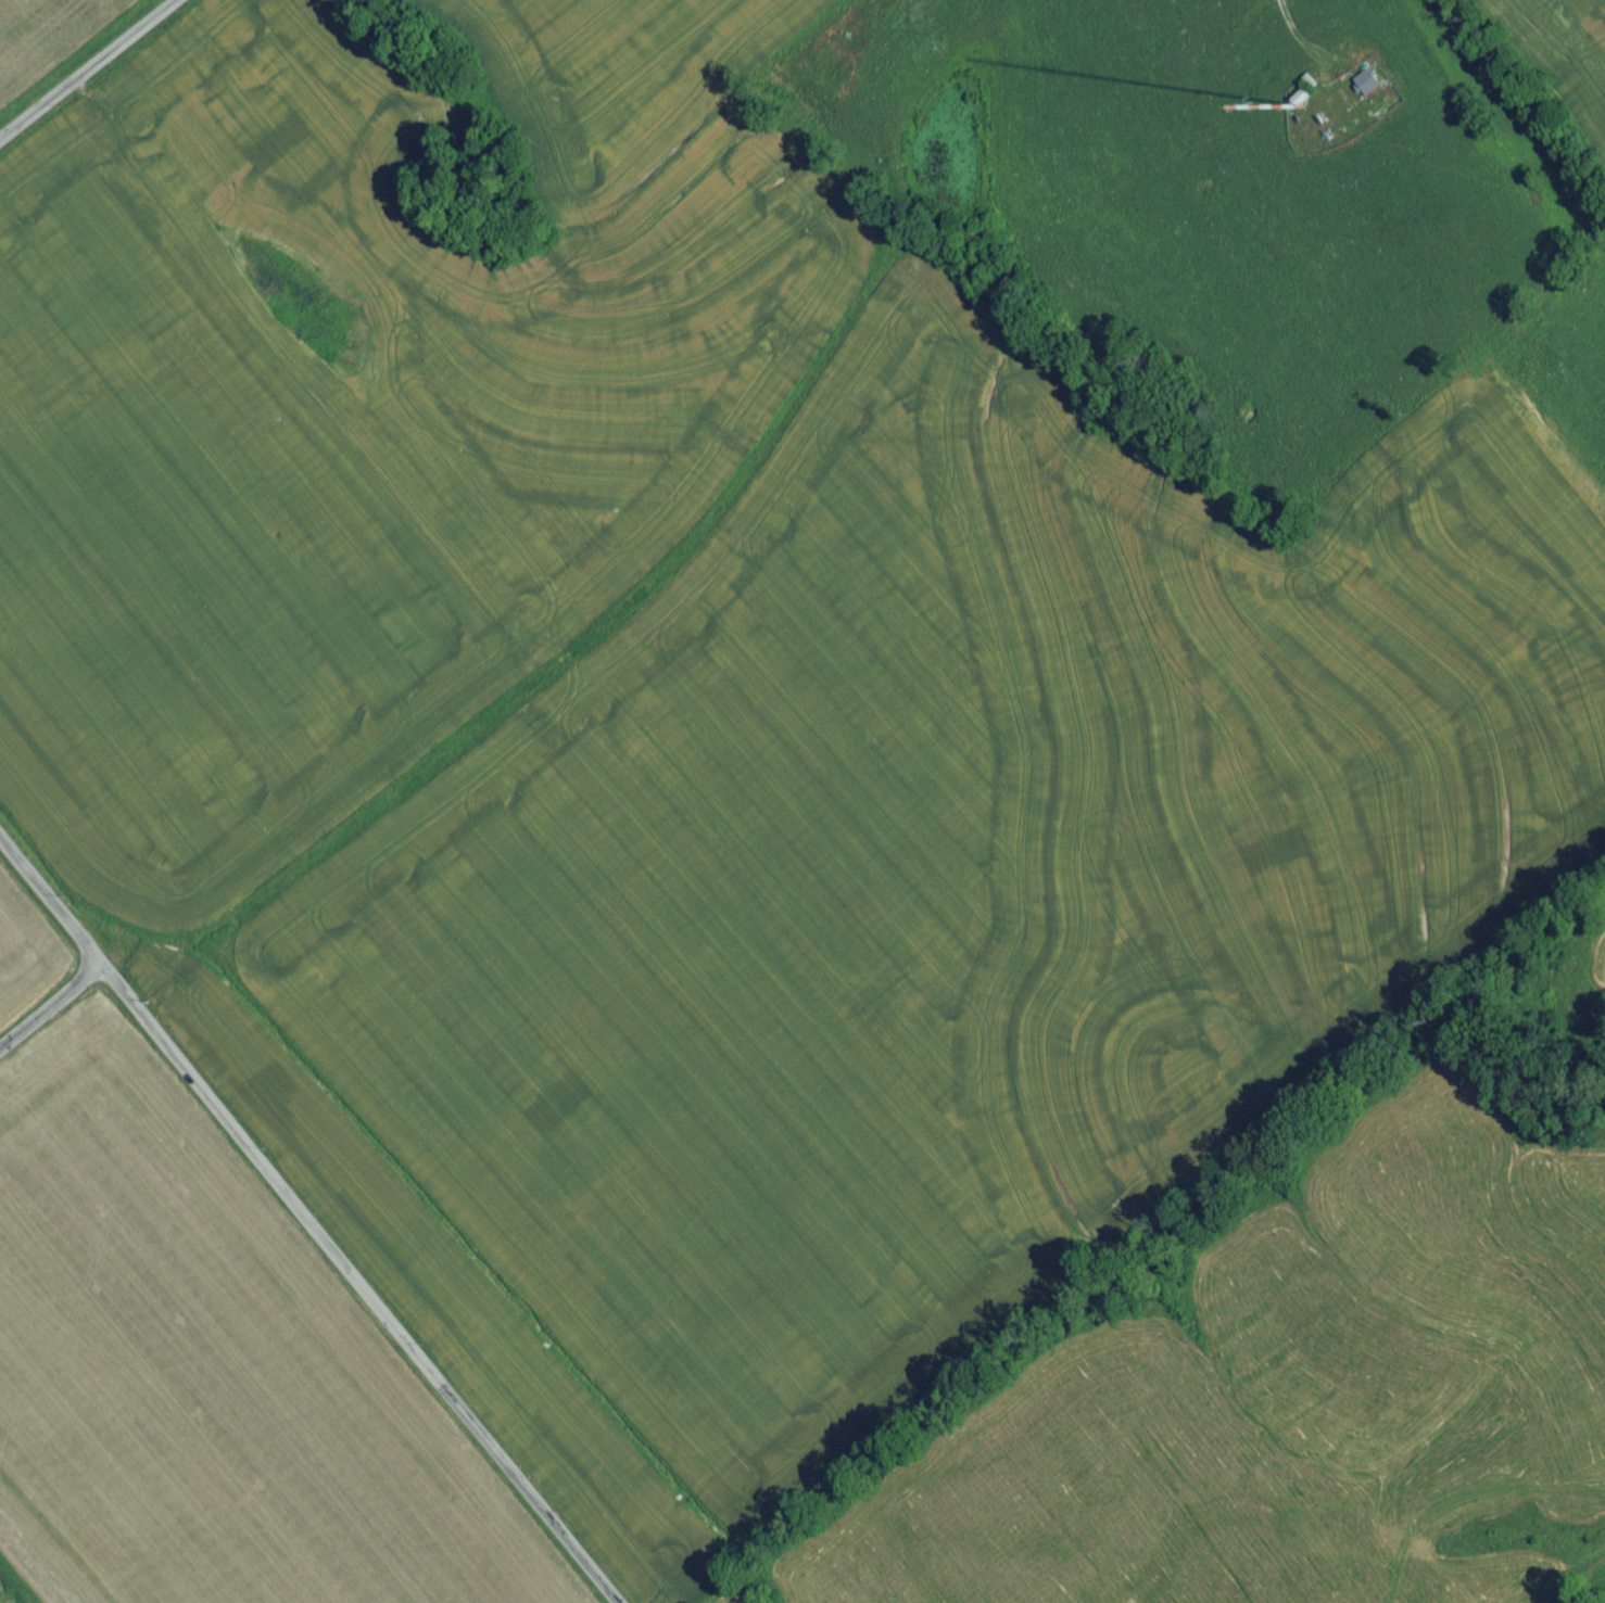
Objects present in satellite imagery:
road: (93, 75)
building: (1366, 88)
building: (1299, 103)
road: (48, 1000)
road: (311, 1222)

